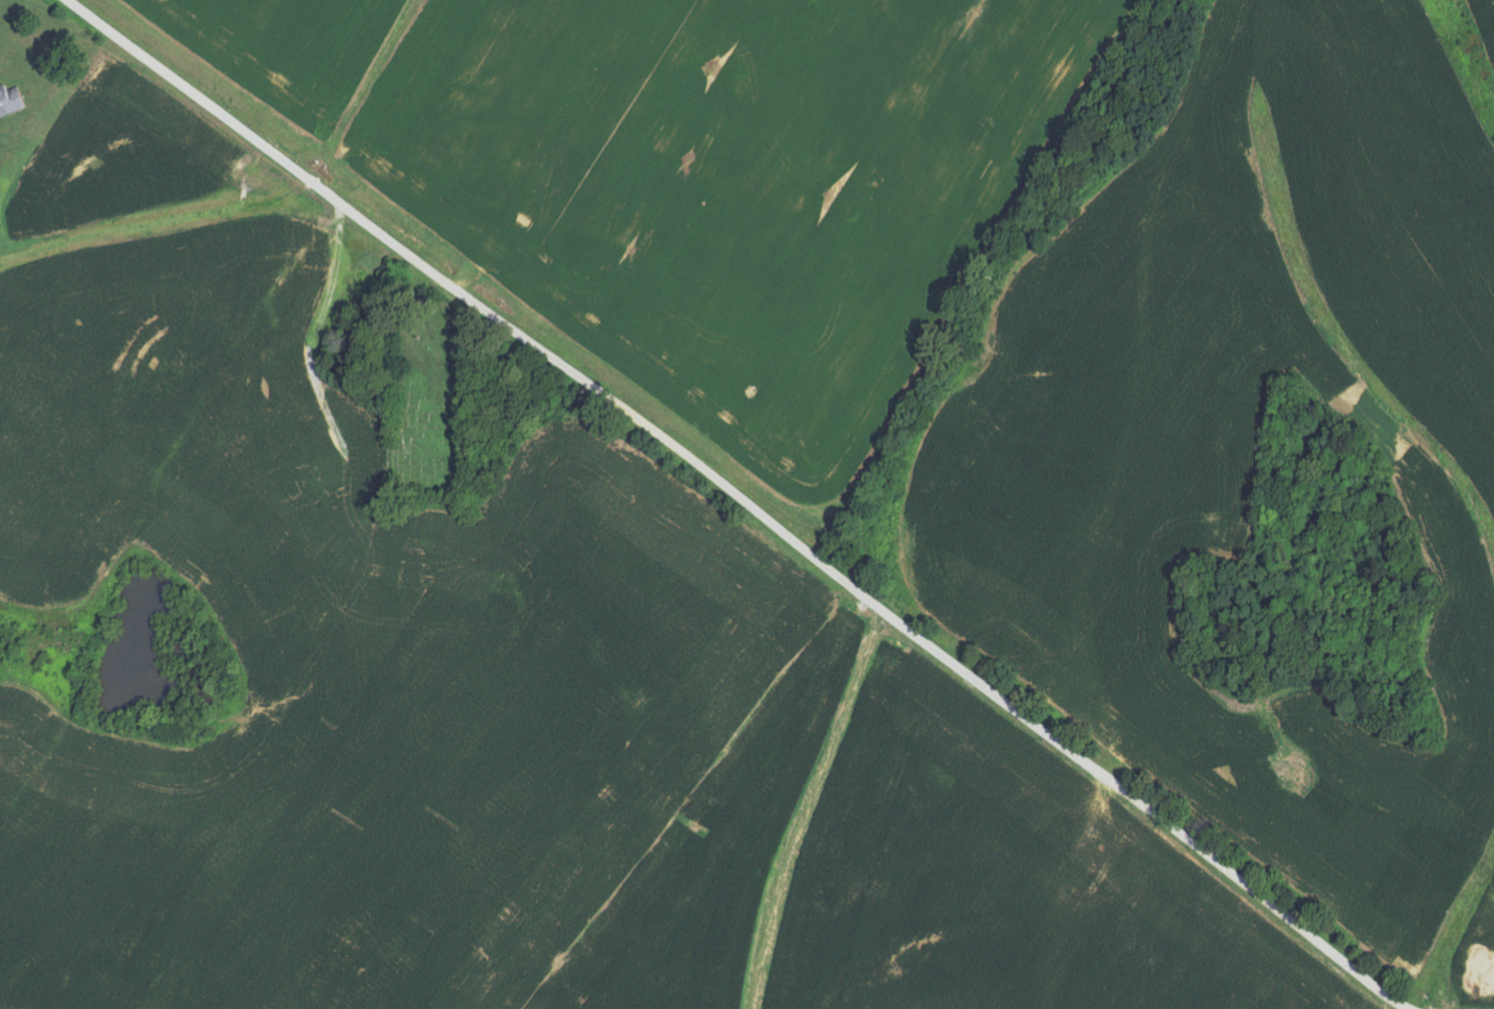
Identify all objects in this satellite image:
building: (11, 101)
park: (441, 406)
road: (740, 501)

